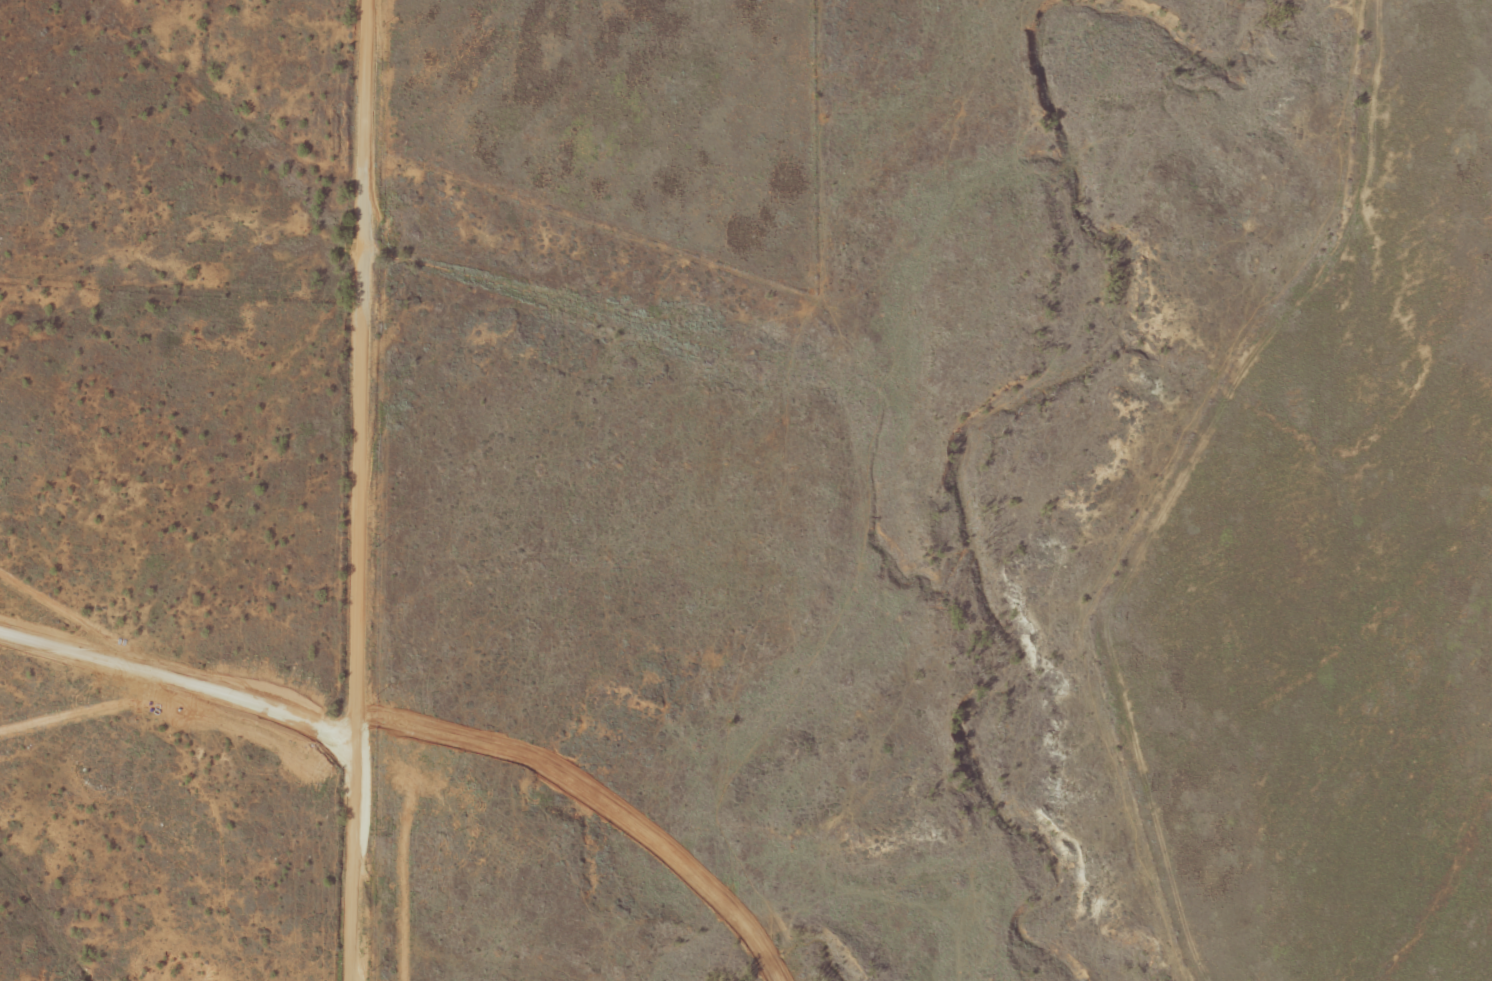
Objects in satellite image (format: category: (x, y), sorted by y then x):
road: (385, 490)
road: (187, 693)

